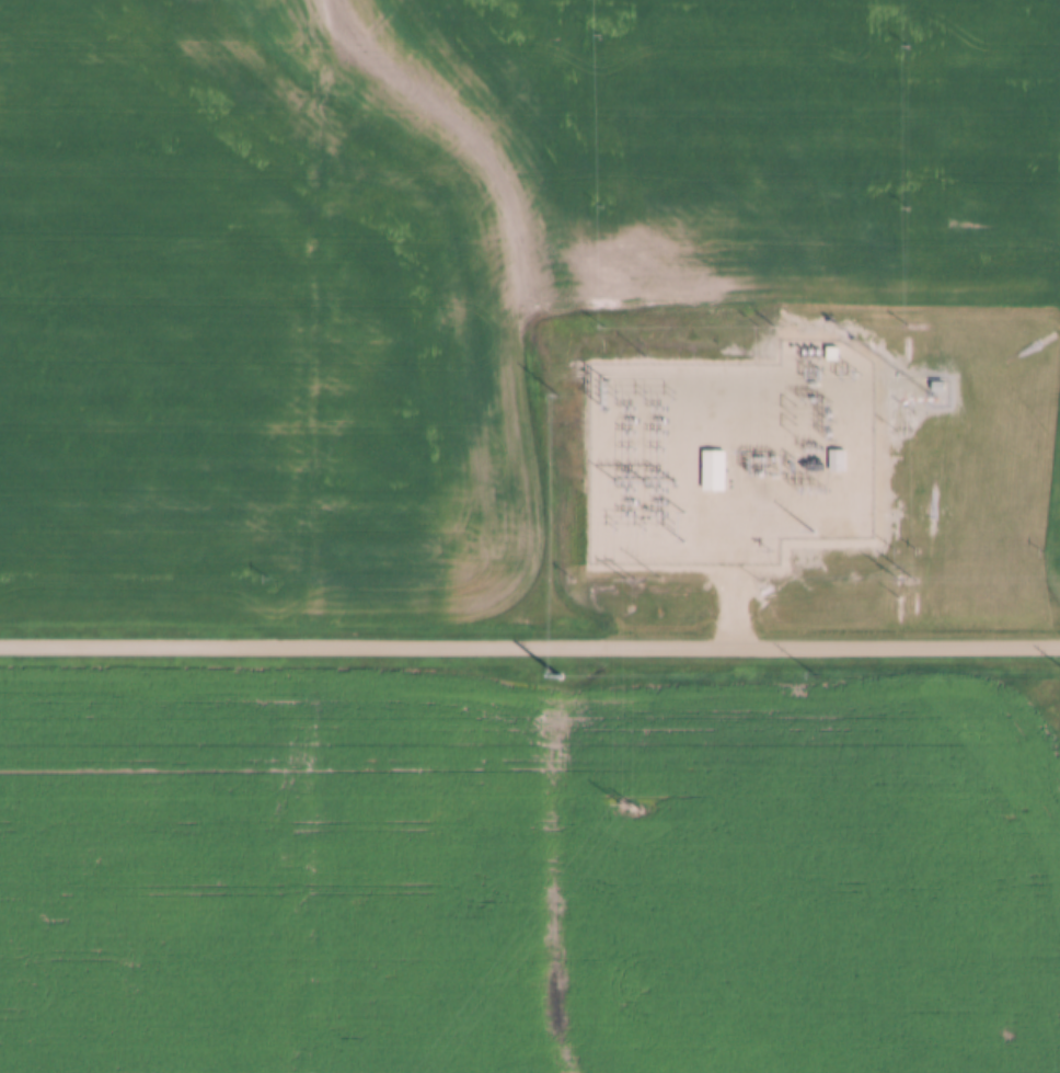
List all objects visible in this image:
building: (831, 354)
building: (937, 387)
power substation: (728, 455)
building: (837, 461)
building: (714, 471)
road: (729, 473)
road: (530, 647)
building: (989, 809)
silo: (989, 809)
building: (1004, 809)
silo: (1004, 809)
building: (1021, 810)
silo: (1021, 810)

